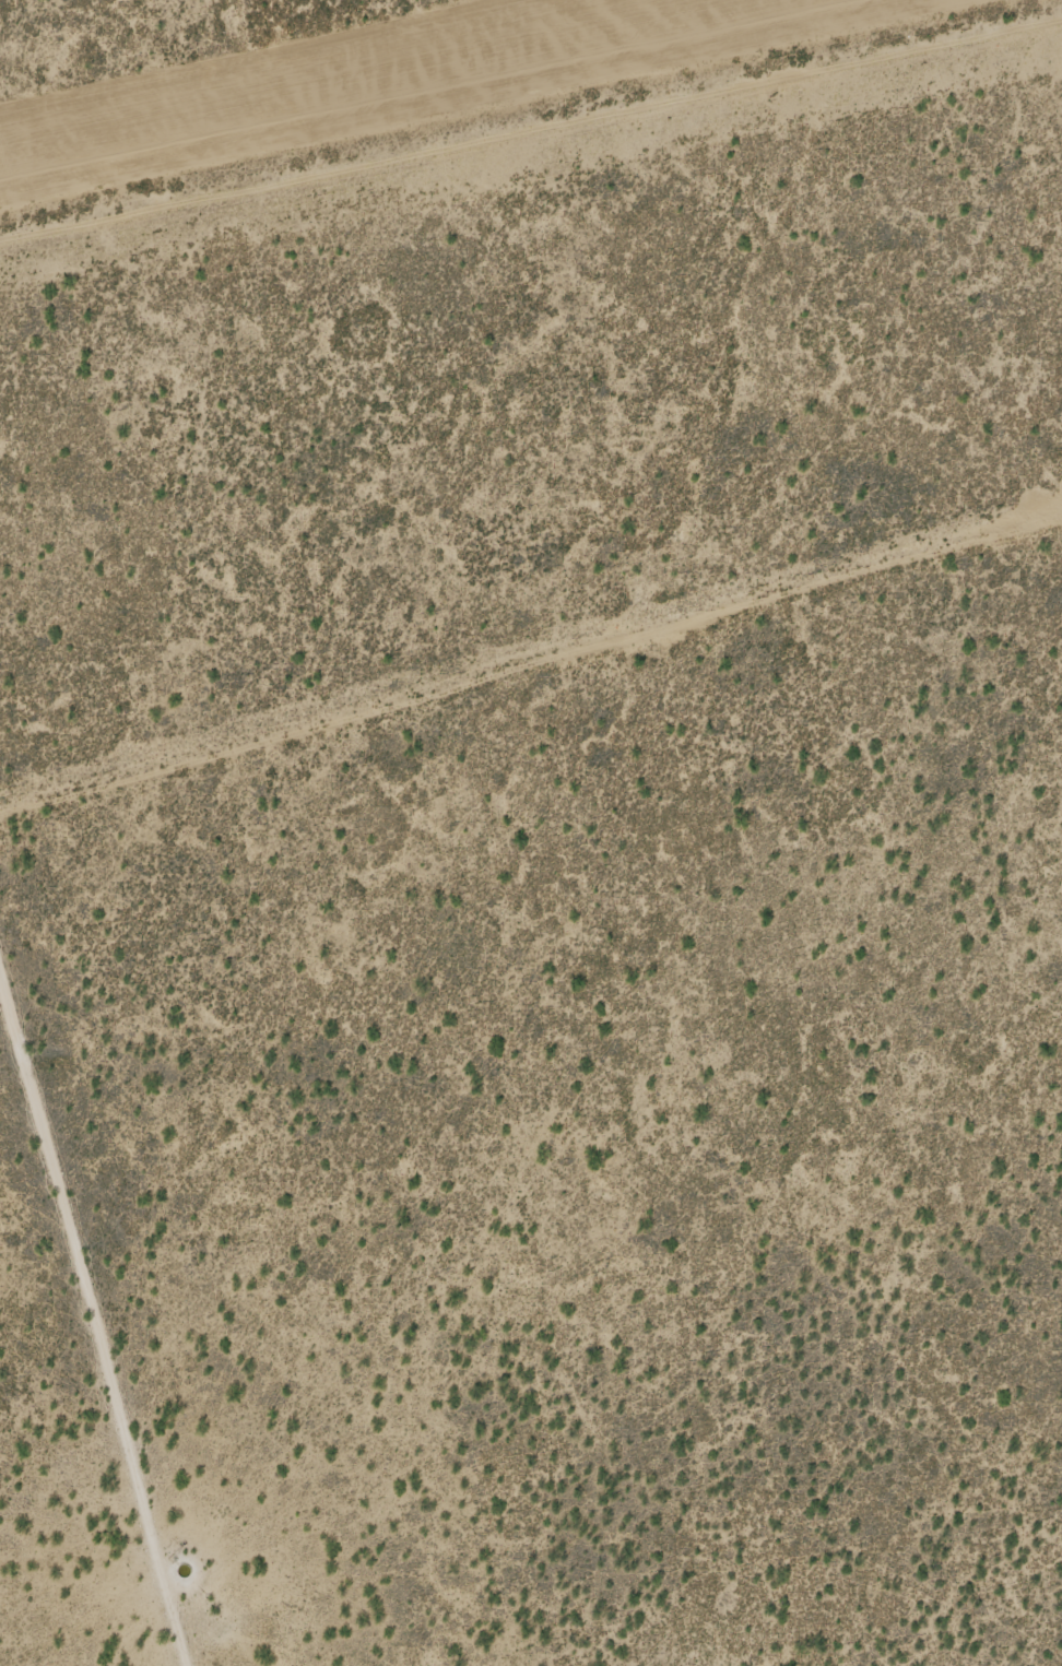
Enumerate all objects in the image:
road: (102, 1288)

